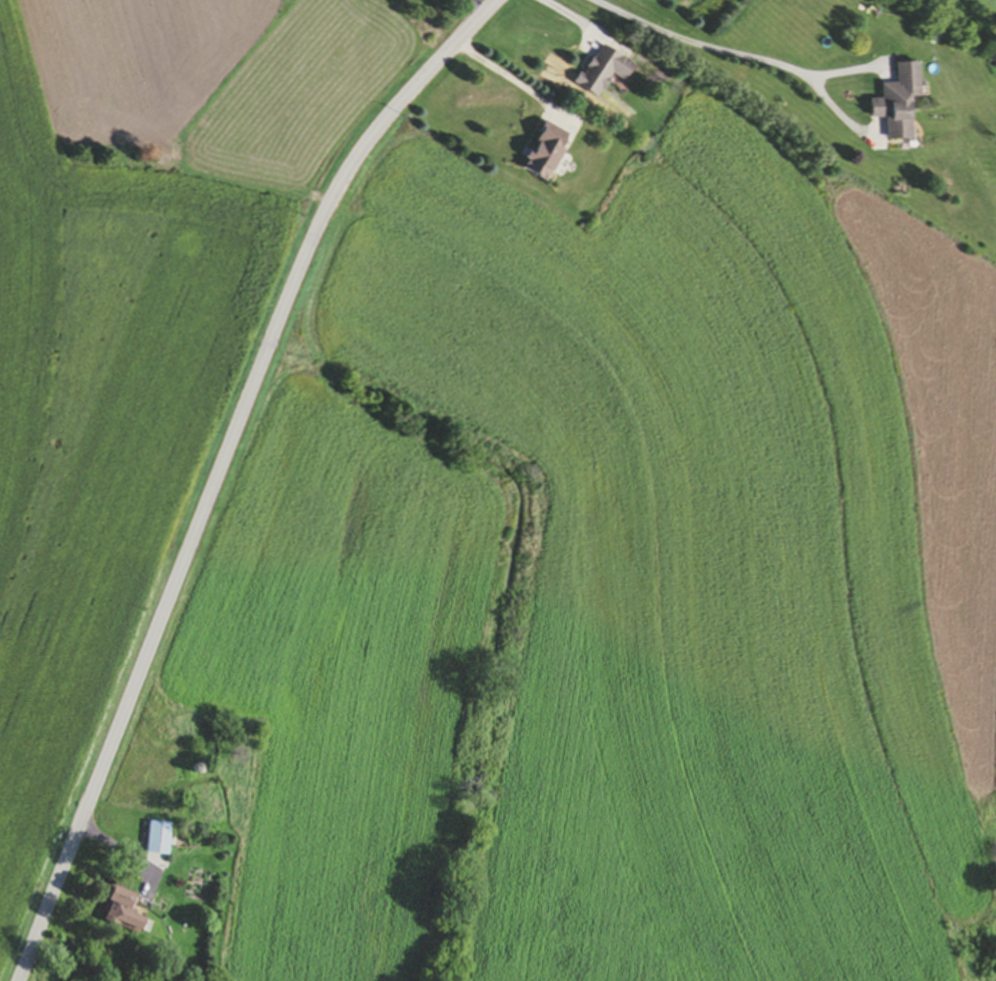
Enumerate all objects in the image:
road: (726, 59)
building: (604, 71)
road: (510, 82)
building: (895, 103)
building: (547, 152)
road: (222, 468)
building: (159, 840)
building: (123, 912)

